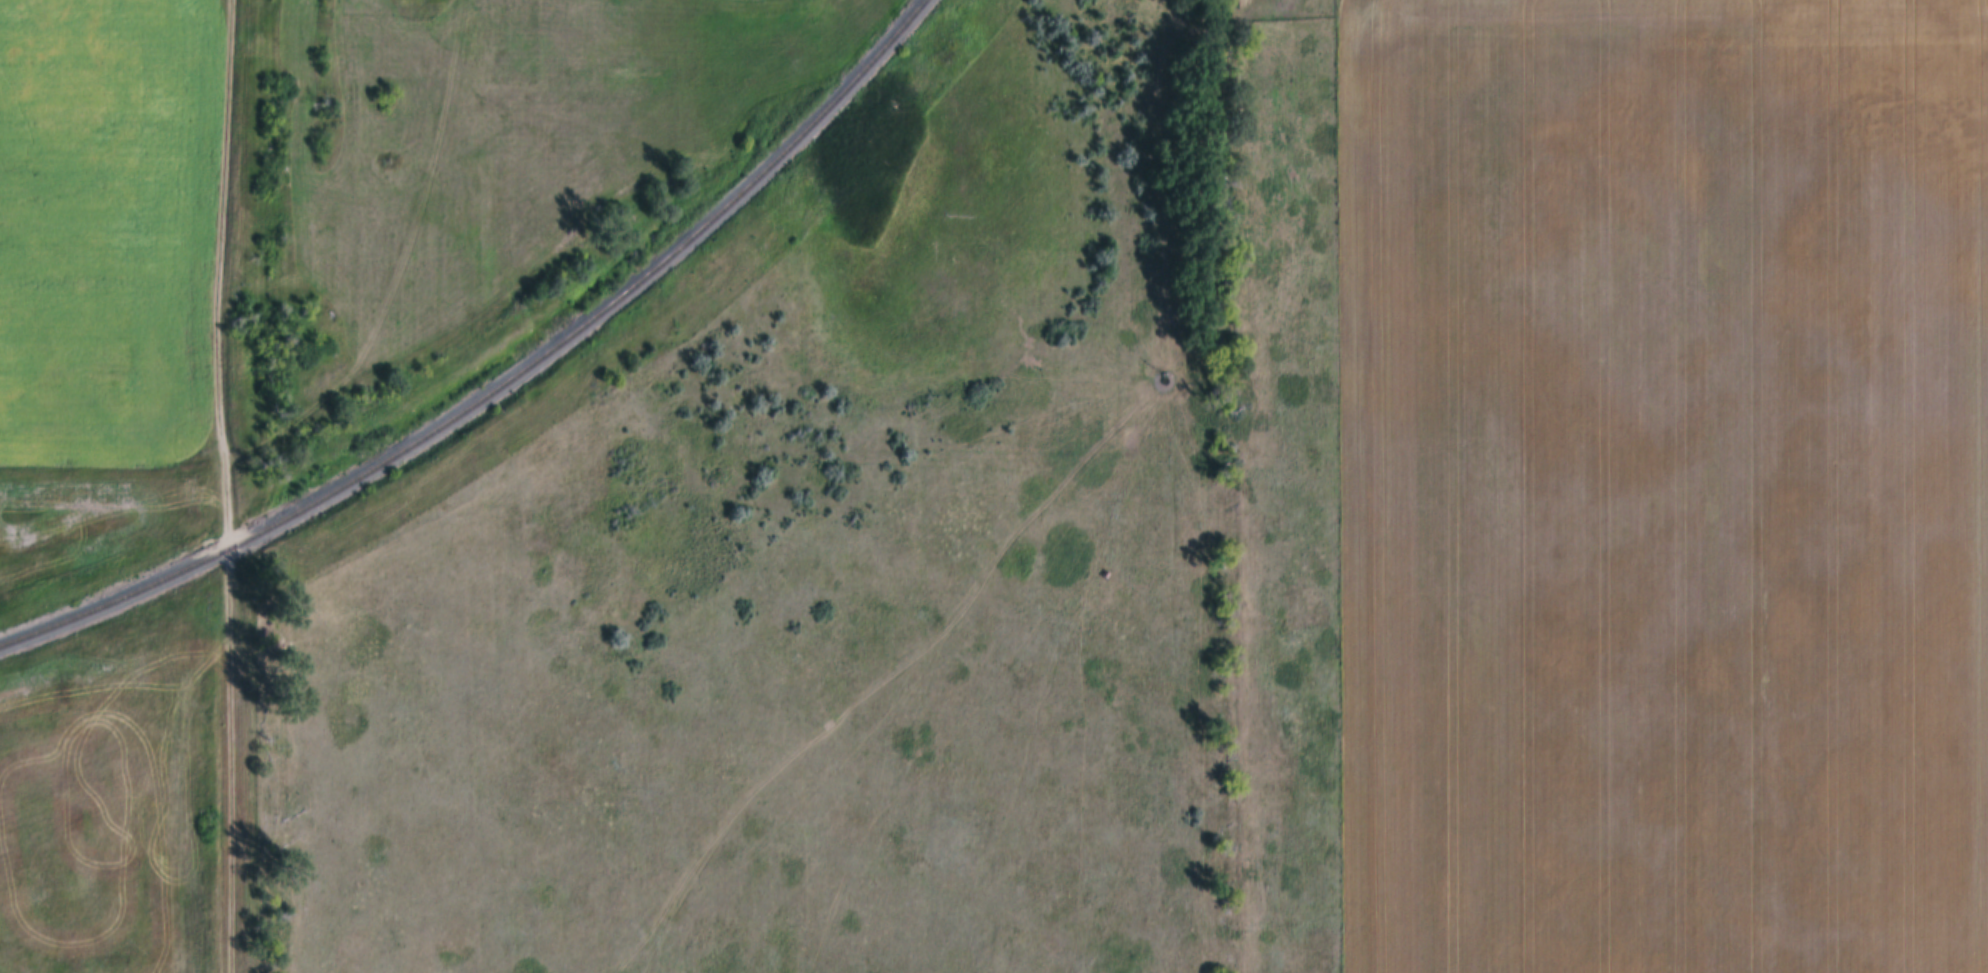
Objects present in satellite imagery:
railway: (504, 382)
road: (228, 485)

